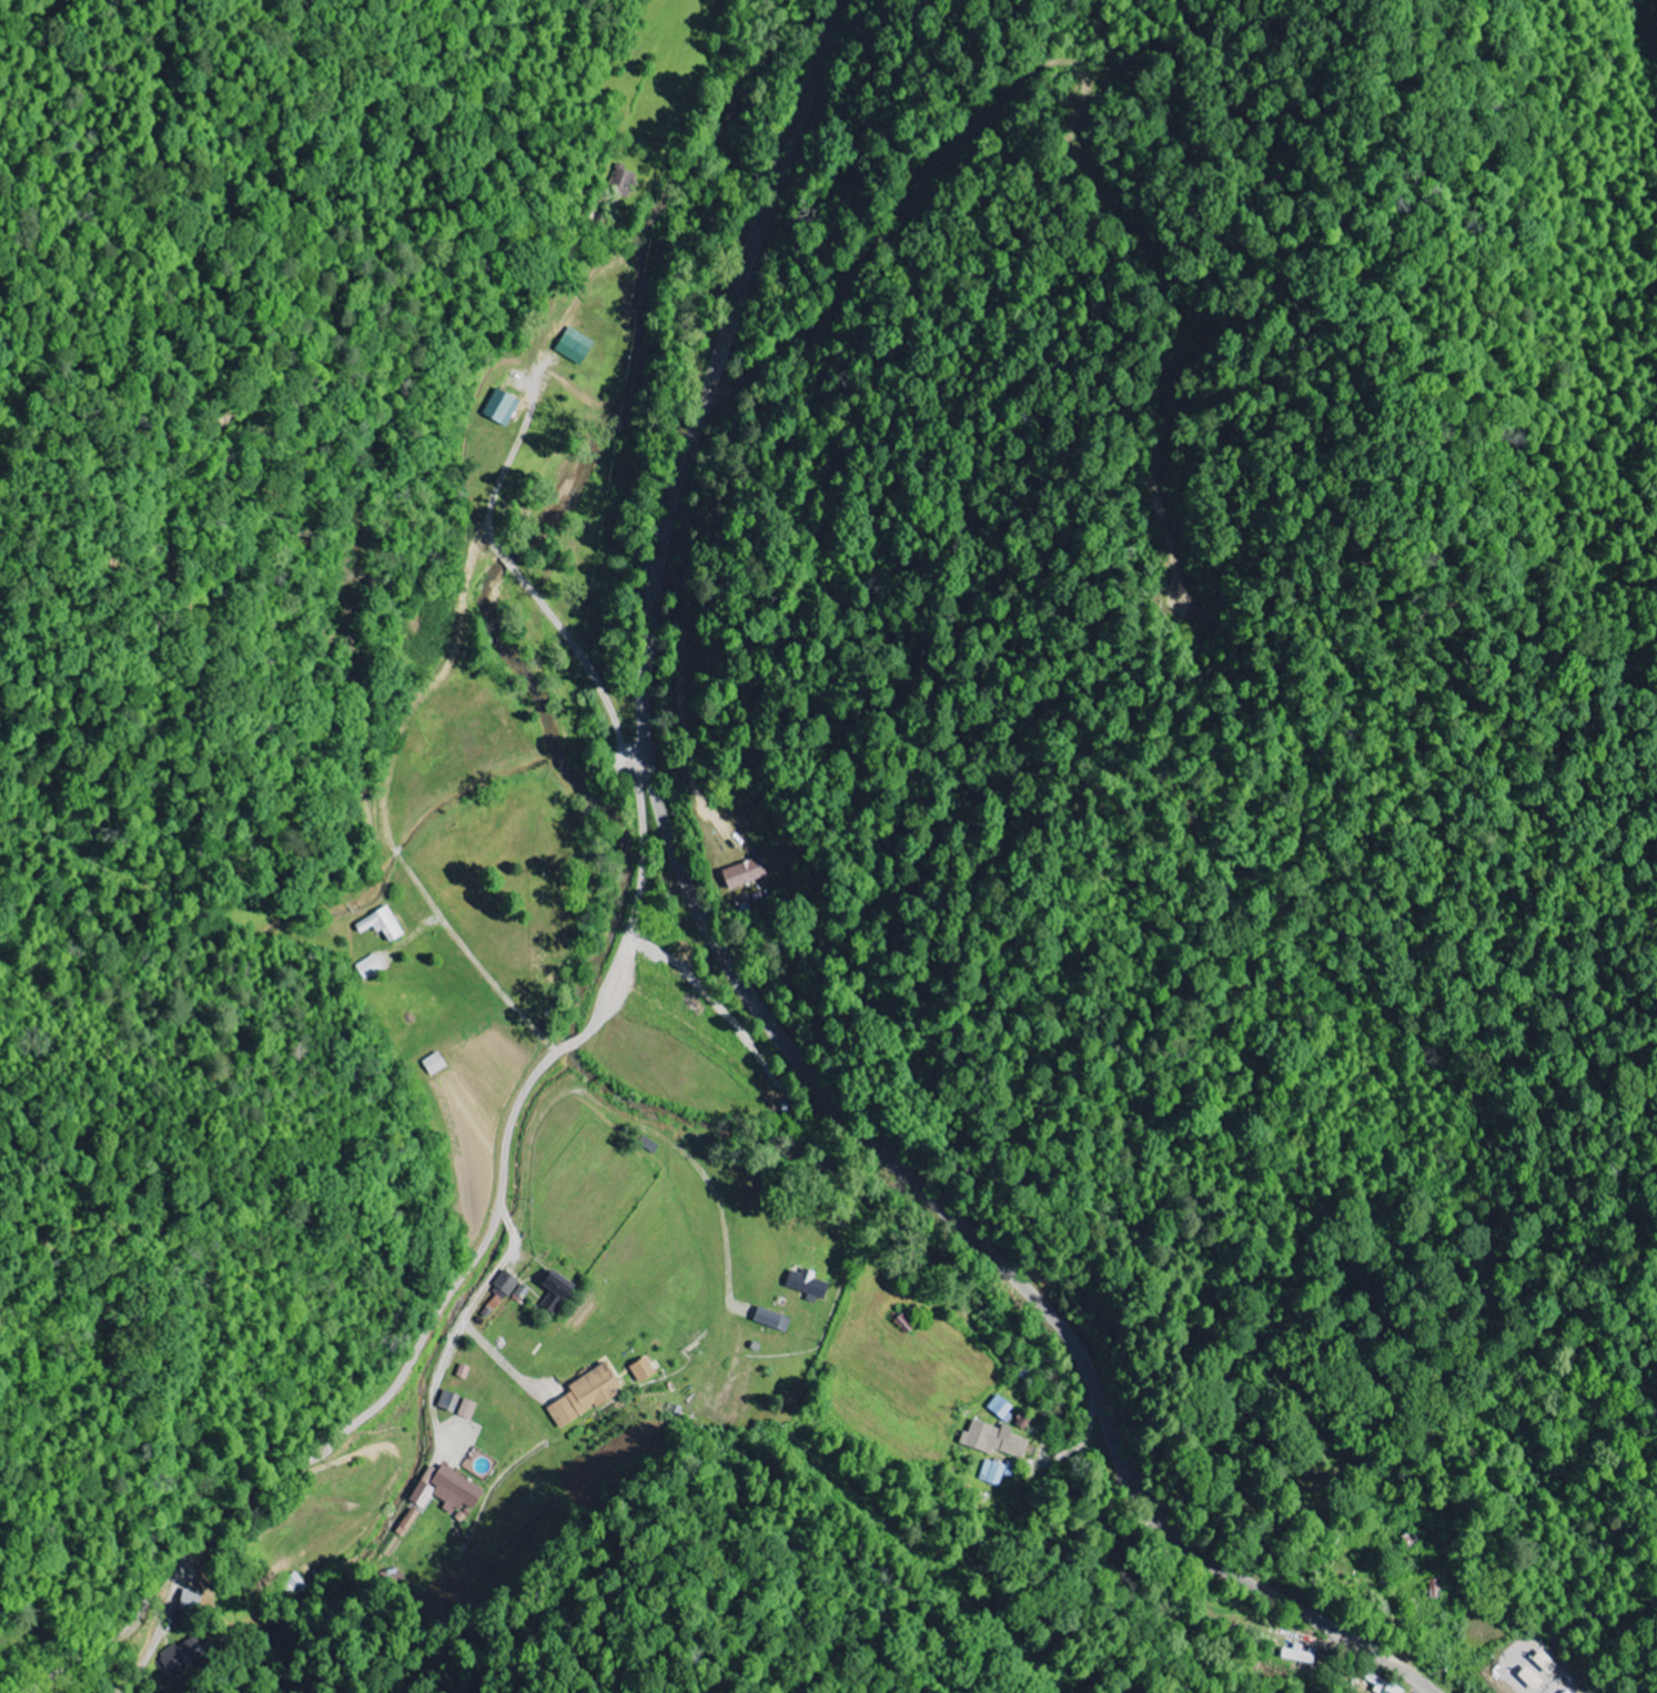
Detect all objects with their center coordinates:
building: (622, 180)
building: (576, 347)
building: (503, 408)
building: (746, 873)
building: (385, 924)
building: (370, 967)
road: (737, 974)
building: (435, 1064)
road: (457, 1283)
building: (810, 1285)
building: (512, 1287)
building: (559, 1291)
building: (775, 1319)
building: (907, 1325)
building: (645, 1370)
building: (465, 1371)
building: (588, 1396)
building: (451, 1401)
building: (1002, 1408)
building: (468, 1409)
road: (1189, 1421)
building: (996, 1440)
road: (1070, 1454)
building: (997, 1472)
building: (448, 1490)
building: (410, 1522)
building: (192, 1601)
road: (165, 1623)
building: (1300, 1655)
building: (184, 1656)
building: (1547, 1664)
building: (1534, 1679)

